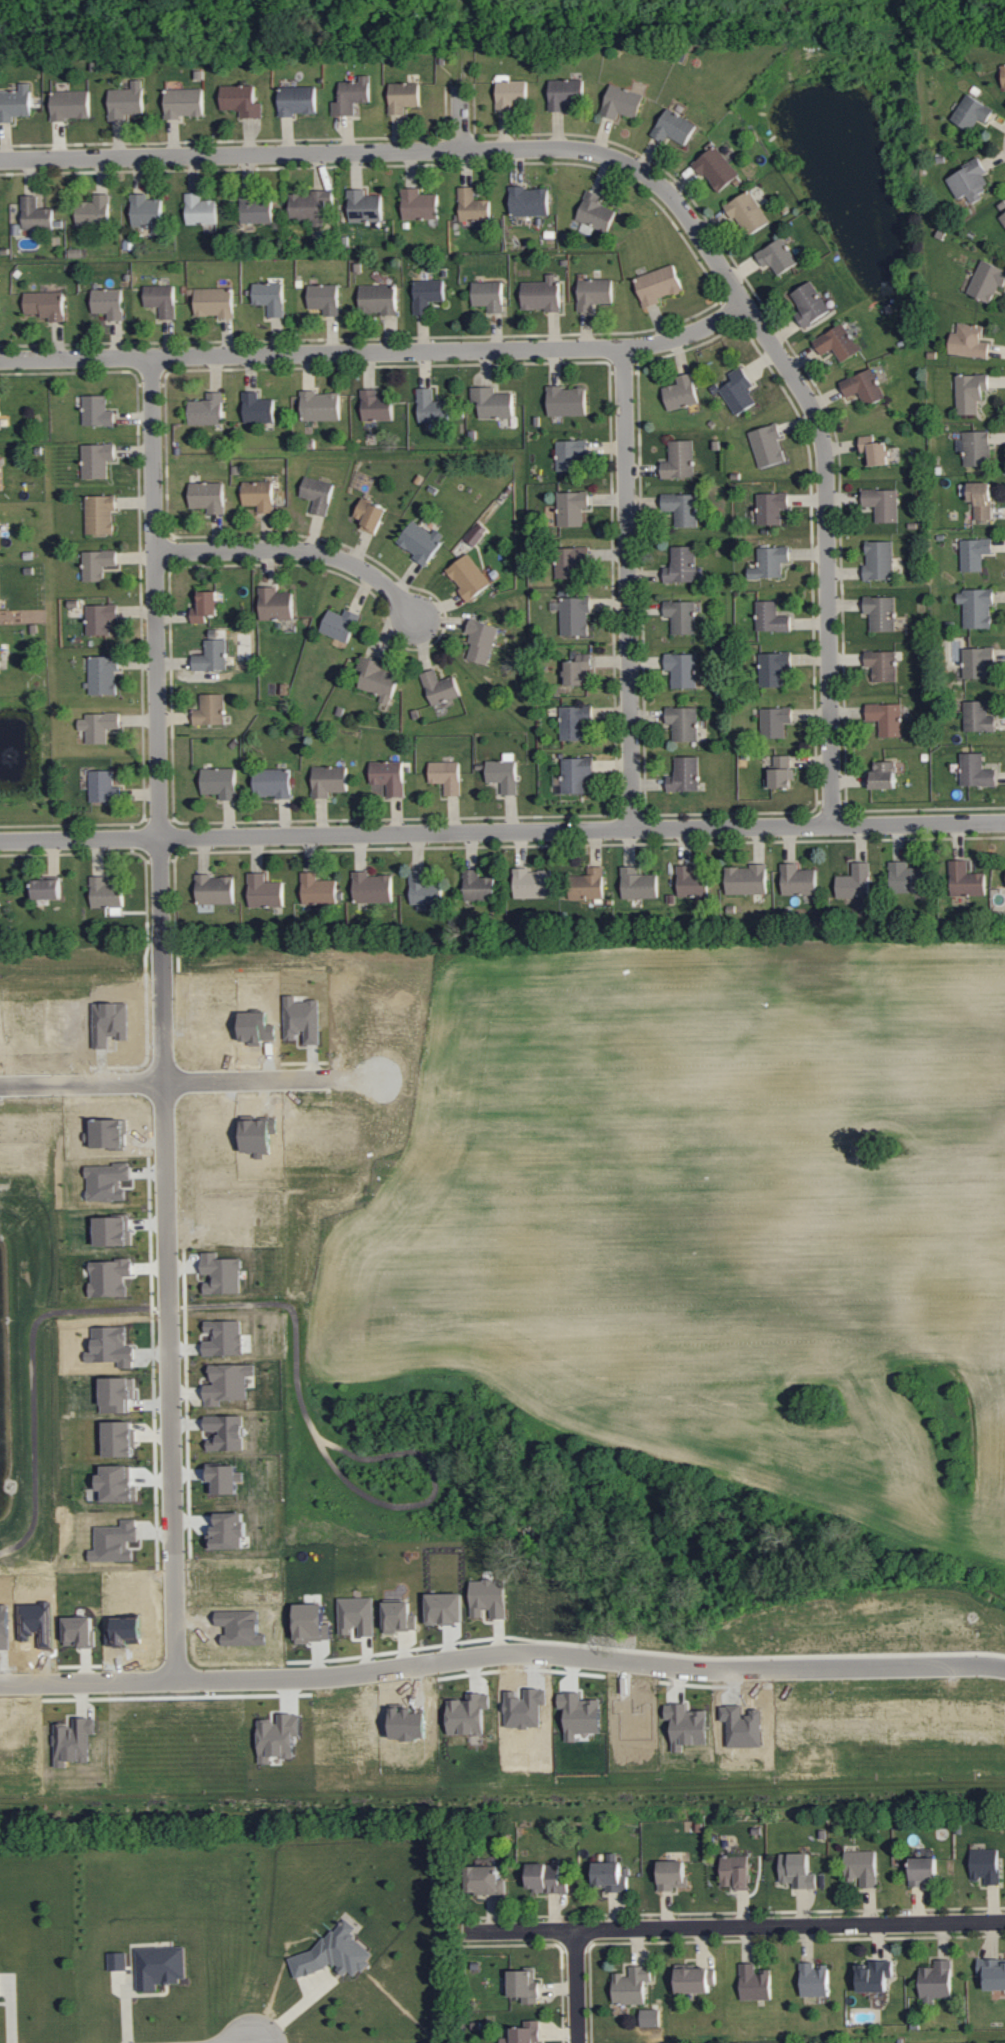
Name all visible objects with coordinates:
road: (459, 40)
building: (1003, 77)
building: (510, 93)
building: (564, 94)
building: (352, 96)
building: (403, 97)
building: (297, 100)
building: (241, 101)
building: (126, 102)
building: (15, 103)
building: (184, 103)
building: (622, 103)
building: (70, 105)
building: (972, 113)
road: (460, 117)
building: (674, 128)
building: (716, 169)
building: (970, 180)
road: (667, 193)
building: (530, 202)
building: (419, 205)
building: (312, 206)
building: (473, 206)
building: (364, 207)
building: (200, 210)
building: (256, 210)
building: (94, 211)
building: (147, 213)
building: (36, 214)
building: (748, 214)
building: (1003, 218)
building: (777, 257)
building: (987, 282)
building: (658, 285)
building: (594, 294)
building: (427, 295)
building: (542, 295)
building: (488, 296)
building: (270, 298)
building: (324, 299)
building: (378, 299)
building: (161, 300)
building: (108, 303)
building: (214, 303)
building: (46, 305)
building: (810, 305)
building: (969, 342)
building: (838, 344)
road: (377, 353)
building: (864, 387)
building: (738, 392)
building: (682, 393)
building: (971, 393)
building: (567, 402)
building: (493, 403)
building: (321, 406)
building: (376, 407)
building: (432, 408)
building: (258, 409)
building: (207, 410)
building: (97, 412)
building: (0, 430)
building: (768, 445)
building: (976, 448)
building: (875, 450)
building: (571, 453)
building: (680, 459)
building: (97, 460)
building: (259, 494)
building: (318, 494)
building: (207, 496)
building: (982, 499)
building: (883, 503)
building: (572, 507)
building: (682, 507)
building: (771, 507)
building: (100, 513)
building: (371, 515)
building: (477, 534)
building: (421, 541)
road: (296, 551)
building: (975, 553)
building: (571, 560)
building: (880, 560)
building: (771, 562)
building: (97, 563)
building: (682, 565)
building: (469, 576)
road: (628, 589)
building: (275, 603)
building: (205, 606)
building: (977, 607)
building: (881, 612)
building: (574, 615)
building: (682, 616)
building: (771, 617)
building: (101, 618)
building: (340, 624)
building: (481, 641)
building: (212, 655)
building: (978, 661)
building: (0, 663)
building: (883, 665)
building: (578, 668)
building: (774, 668)
building: (683, 669)
building: (103, 675)
building: (377, 678)
building: (440, 687)
building: (210, 709)
building: (978, 716)
building: (887, 718)
building: (775, 721)
building: (575, 722)
building: (684, 722)
building: (99, 726)
building: (782, 771)
building: (976, 771)
building: (504, 772)
building: (575, 774)
building: (685, 774)
building: (447, 775)
building: (884, 775)
building: (389, 776)
building: (329, 780)
building: (220, 782)
building: (273, 783)
building: (103, 786)
road: (502, 832)
building: (907, 877)
building: (747, 879)
building: (966, 879)
building: (798, 880)
building: (691, 882)
building: (855, 882)
building: (533, 883)
building: (638, 883)
building: (588, 884)
building: (478, 886)
building: (47, 888)
building: (372, 888)
building: (215, 889)
building: (318, 889)
building: (265, 891)
building: (425, 891)
building: (107, 895)
road: (163, 1018)
road: (507, 1073)
road: (626, 1335)
building: (488, 1597)
building: (445, 1607)
building: (356, 1616)
road: (502, 1652)
building: (985, 1865)
building: (861, 1866)
building: (797, 1870)
building: (922, 1870)
building: (735, 1871)
building: (672, 1874)
building: (548, 1876)
building: (610, 1876)
building: (485, 1879)
road: (735, 1929)
building: (334, 1953)
building: (118, 1960)
building: (160, 1966)
building: (992, 1973)
building: (874, 1975)
building: (694, 1978)
building: (814, 1979)
building: (936, 1979)
building: (754, 1982)
building: (524, 1984)
building: (631, 1985)
building: (0, 1988)
road: (576, 1988)
road: (293, 2011)
building: (523, 2033)

